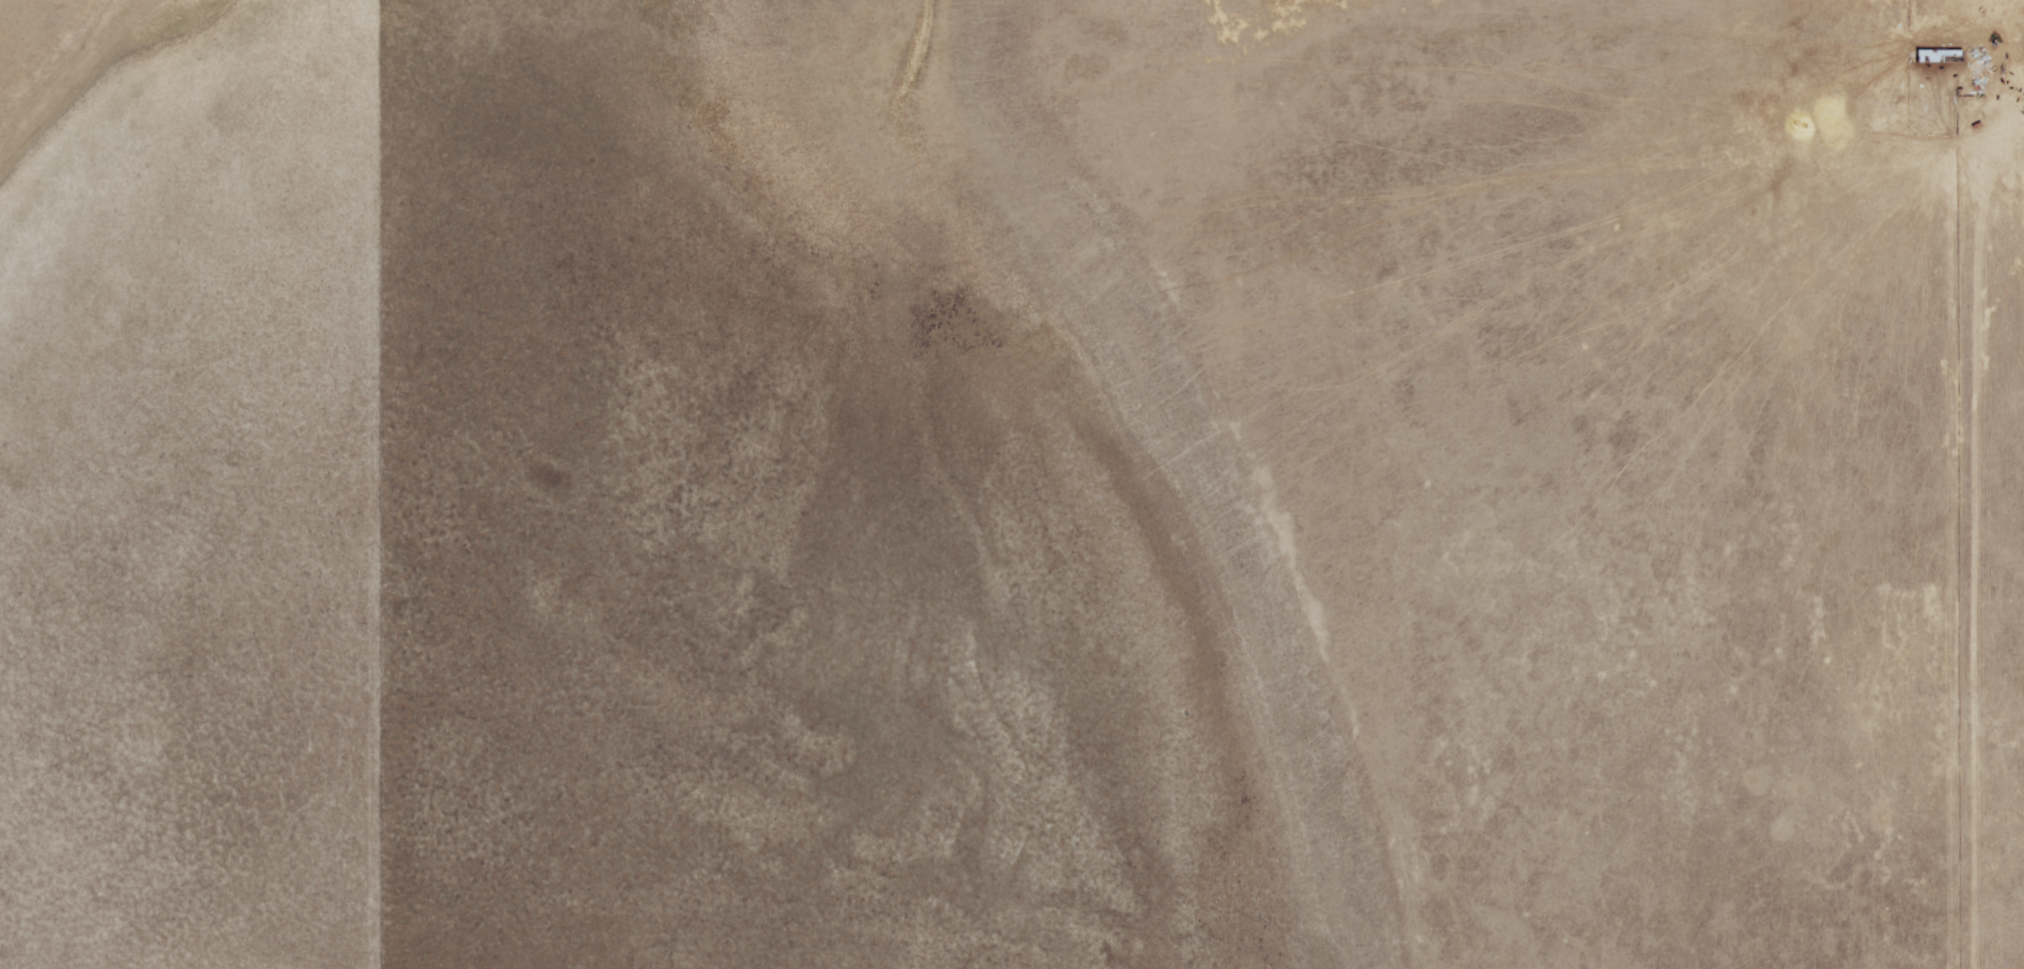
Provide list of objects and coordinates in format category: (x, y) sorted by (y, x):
building: (1930, 55)

